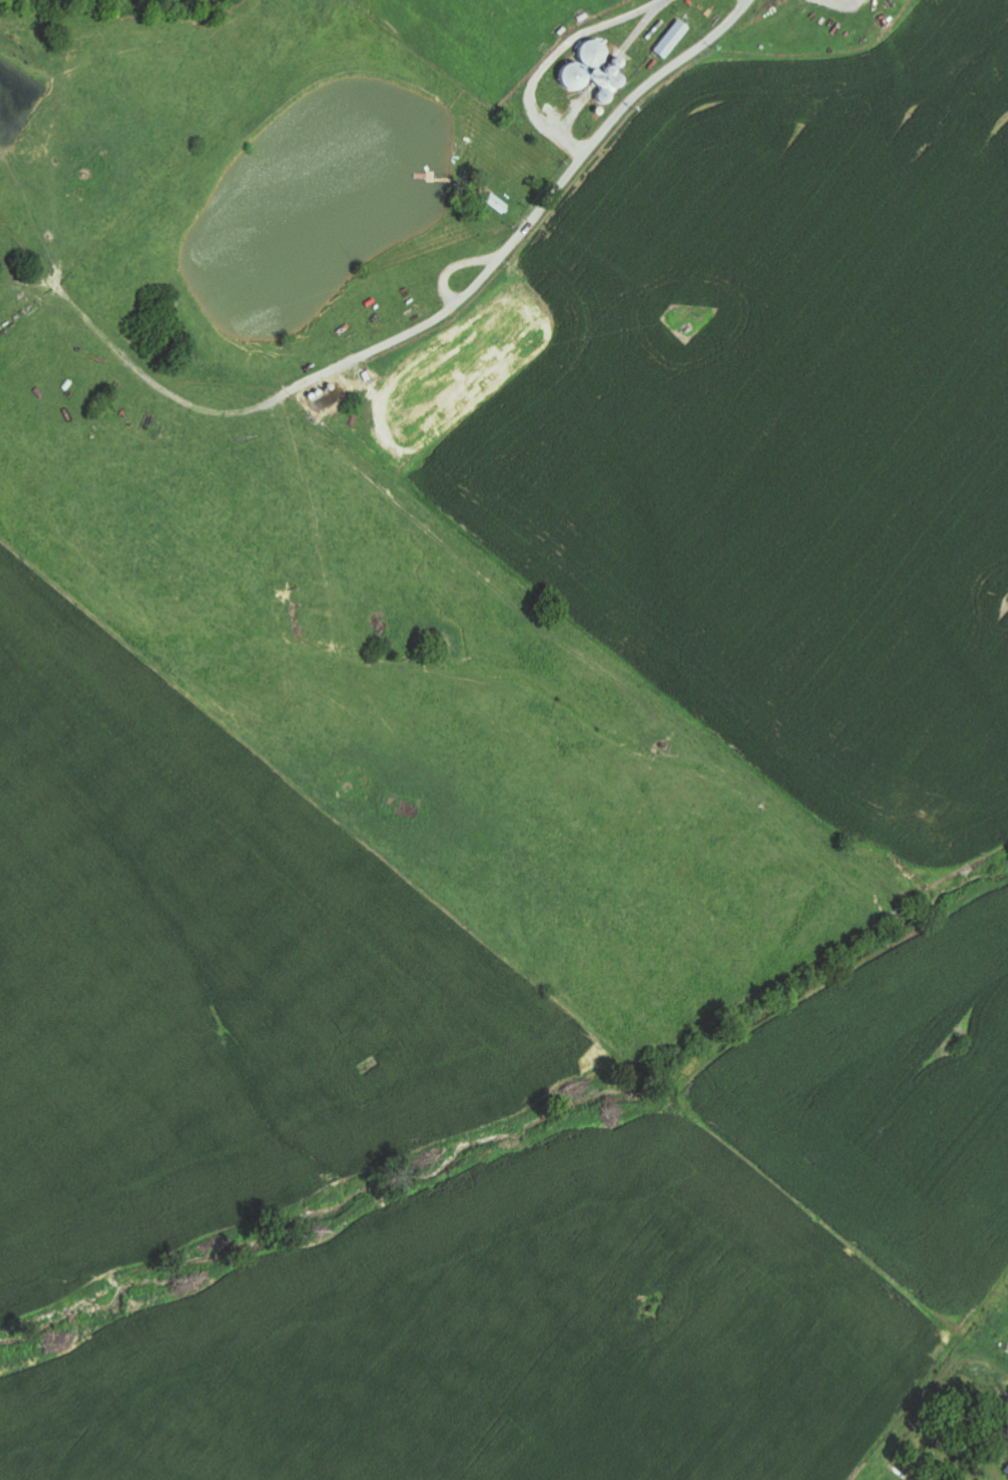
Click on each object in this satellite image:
building: (668, 40)
building: (588, 70)
road: (570, 97)
road: (965, 1454)
building: (1006, 1467)

